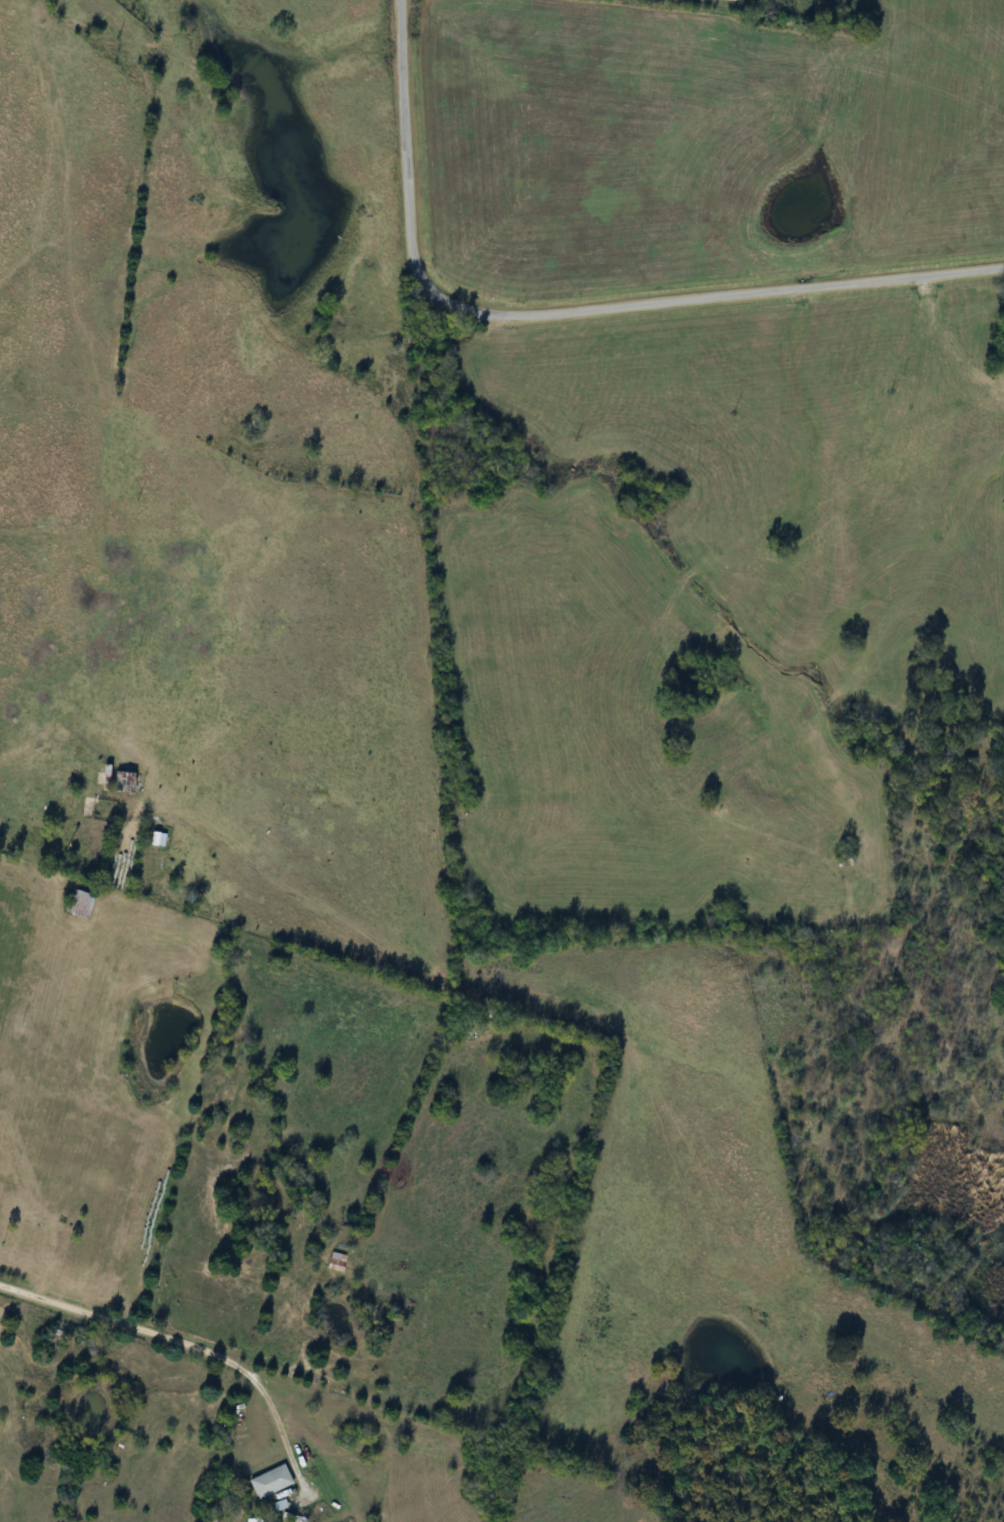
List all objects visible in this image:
road: (566, 312)
building: (125, 781)
building: (84, 904)
building: (338, 1261)
road: (186, 1343)
building: (273, 1482)

